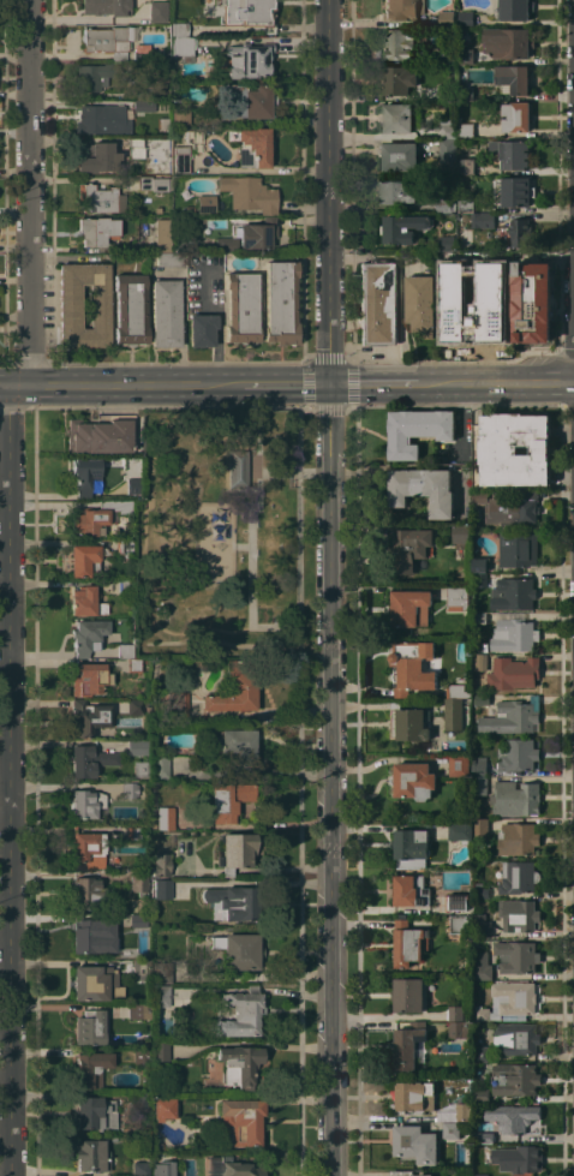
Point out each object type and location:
building: (107, 7)
building: (401, 10)
building: (513, 10)
building: (156, 11)
building: (256, 13)
building: (446, 18)
building: (466, 18)
building: (179, 28)
building: (421, 37)
building: (108, 40)
building: (508, 42)
building: (397, 44)
building: (183, 47)
building: (140, 50)
building: (465, 54)
building: (447, 55)
building: (249, 60)
building: (94, 76)
building: (397, 79)
building: (513, 79)
building: (140, 92)
building: (447, 92)
building: (466, 92)
building: (251, 101)
building: (144, 105)
building: (184, 117)
building: (516, 117)
building: (397, 118)
building: (101, 119)
building: (447, 127)
building: (466, 130)
building: (252, 145)
building: (136, 148)
building: (447, 149)
building: (512, 154)
building: (399, 156)
building: (94, 157)
building: (181, 160)
building: (465, 166)
building: (464, 178)
building: (151, 183)
building: (400, 190)
building: (514, 191)
building: (249, 193)
building: (100, 198)
building: (444, 202)
building: (205, 203)
building: (467, 204)
building: (482, 219)
building: (403, 227)
building: (97, 229)
building: (520, 232)
building: (163, 233)
building: (247, 235)
building: (447, 243)
building: (171, 258)
building: (455, 258)
building: (492, 273)
building: (280, 302)
building: (378, 303)
building: (420, 304)
building: (533, 305)
building: (70, 306)
building: (240, 308)
building: (130, 309)
building: (454, 311)
building: (166, 312)
building: (490, 314)
building: (202, 329)
road: (496, 384)
road: (372, 386)
road: (110, 387)
road: (275, 387)
traffic signals: (328, 387)
building: (417, 430)
building: (100, 434)
building: (514, 449)
building: (237, 467)
road: (155, 472)
building: (85, 476)
building: (133, 485)
building: (423, 489)
building: (478, 497)
building: (136, 503)
building: (510, 507)
building: (97, 517)
building: (461, 533)
park: (219, 535)
road: (255, 539)
building: (124, 545)
road: (246, 548)
building: (409, 548)
building: (518, 549)
building: (85, 559)
building: (479, 579)
road: (7, 585)
building: (125, 586)
road: (328, 587)
building: (513, 593)
building: (458, 597)
building: (85, 602)
building: (409, 608)
building: (479, 617)
building: (513, 633)
building: (88, 635)
building: (480, 646)
building: (125, 650)
building: (479, 662)
building: (134, 664)
building: (412, 667)
building: (513, 673)
building: (89, 677)
building: (235, 688)
building: (456, 691)
building: (482, 699)
building: (134, 706)
building: (177, 706)
building: (453, 714)
building: (90, 716)
building: (509, 717)
building: (408, 723)
building: (234, 744)
building: (137, 747)
building: (518, 756)
building: (89, 759)
building: (458, 764)
building: (160, 765)
building: (478, 765)
building: (140, 768)
building: (413, 780)
building: (479, 784)
building: (128, 789)
building: (515, 798)
building: (228, 799)
building: (86, 804)
building: (165, 817)
road: (385, 826)
building: (480, 828)
building: (460, 831)
building: (133, 832)
building: (516, 838)
building: (411, 843)
building: (89, 848)
building: (235, 850)
building: (161, 864)
building: (518, 877)
building: (138, 879)
building: (162, 887)
building: (411, 890)
building: (479, 891)
building: (90, 893)
building: (456, 901)
building: (234, 902)
building: (518, 914)
building: (138, 920)
building: (458, 924)
building: (480, 926)
building: (89, 935)
building: (408, 943)
building: (238, 950)
building: (516, 956)
building: (482, 966)
building: (142, 969)
building: (161, 972)
building: (95, 983)
building: (409, 993)
building: (161, 995)
building: (508, 999)
building: (138, 1010)
building: (243, 1011)
building: (455, 1013)
building: (89, 1026)
building: (460, 1029)
building: (515, 1038)
building: (407, 1044)
building: (160, 1050)
building: (482, 1053)
building: (140, 1056)
building: (238, 1064)
building: (91, 1068)
building: (514, 1079)
building: (482, 1094)
building: (415, 1096)
building: (140, 1100)
building: (163, 1108)
building: (455, 1111)
building: (95, 1112)
building: (514, 1116)
building: (243, 1120)
building: (450, 1130)
building: (483, 1135)
building: (414, 1144)
building: (91, 1154)
building: (518, 1158)
building: (232, 1166)
building: (163, 1168)
building: (140, 1169)
building: (407, 1172)
building: (480, 1174)

